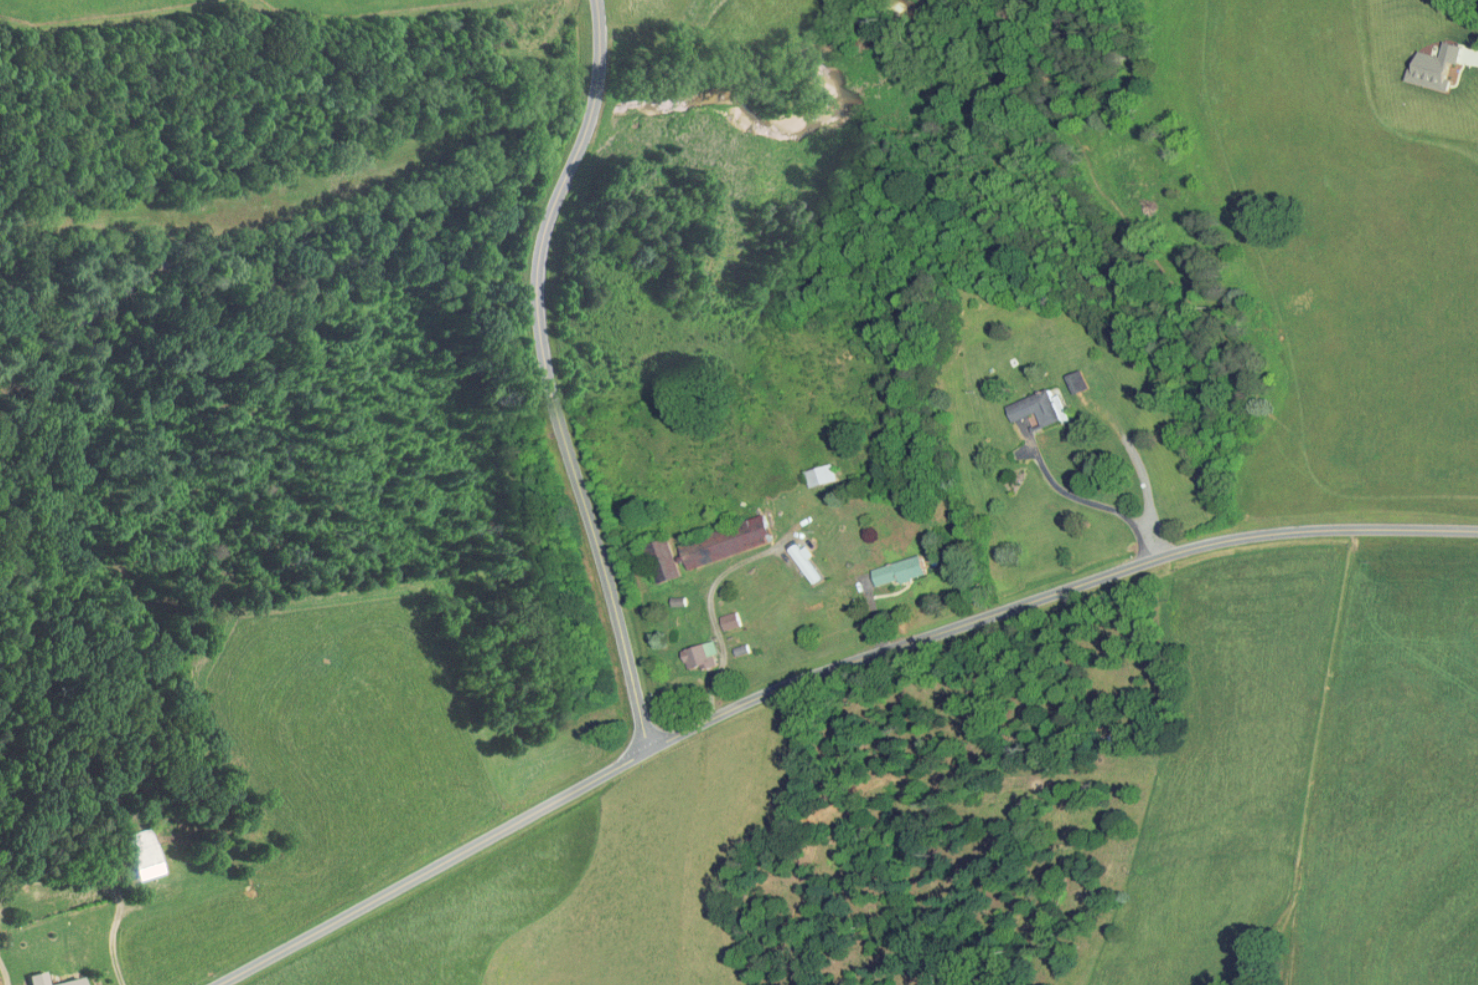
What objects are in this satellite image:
building: (1436, 66)
road: (546, 376)
building: (1038, 407)
road: (1093, 503)
building: (726, 541)
building: (662, 560)
building: (804, 563)
building: (900, 570)
building: (730, 620)
building: (741, 649)
building: (700, 655)
road: (816, 675)
building: (143, 855)
building: (73, 980)

